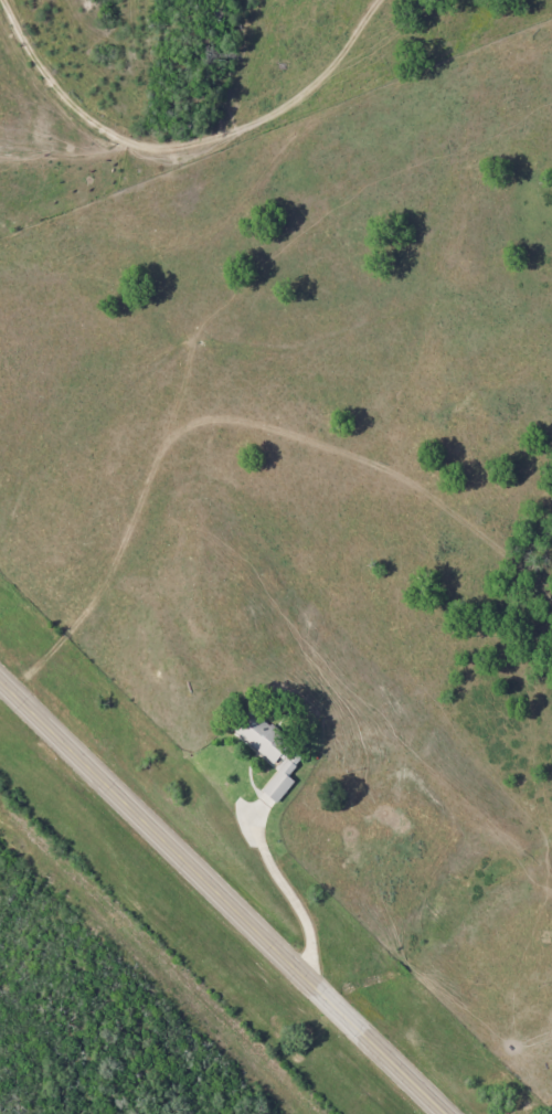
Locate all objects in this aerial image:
building: (259, 738)
building: (277, 783)
road: (219, 900)

